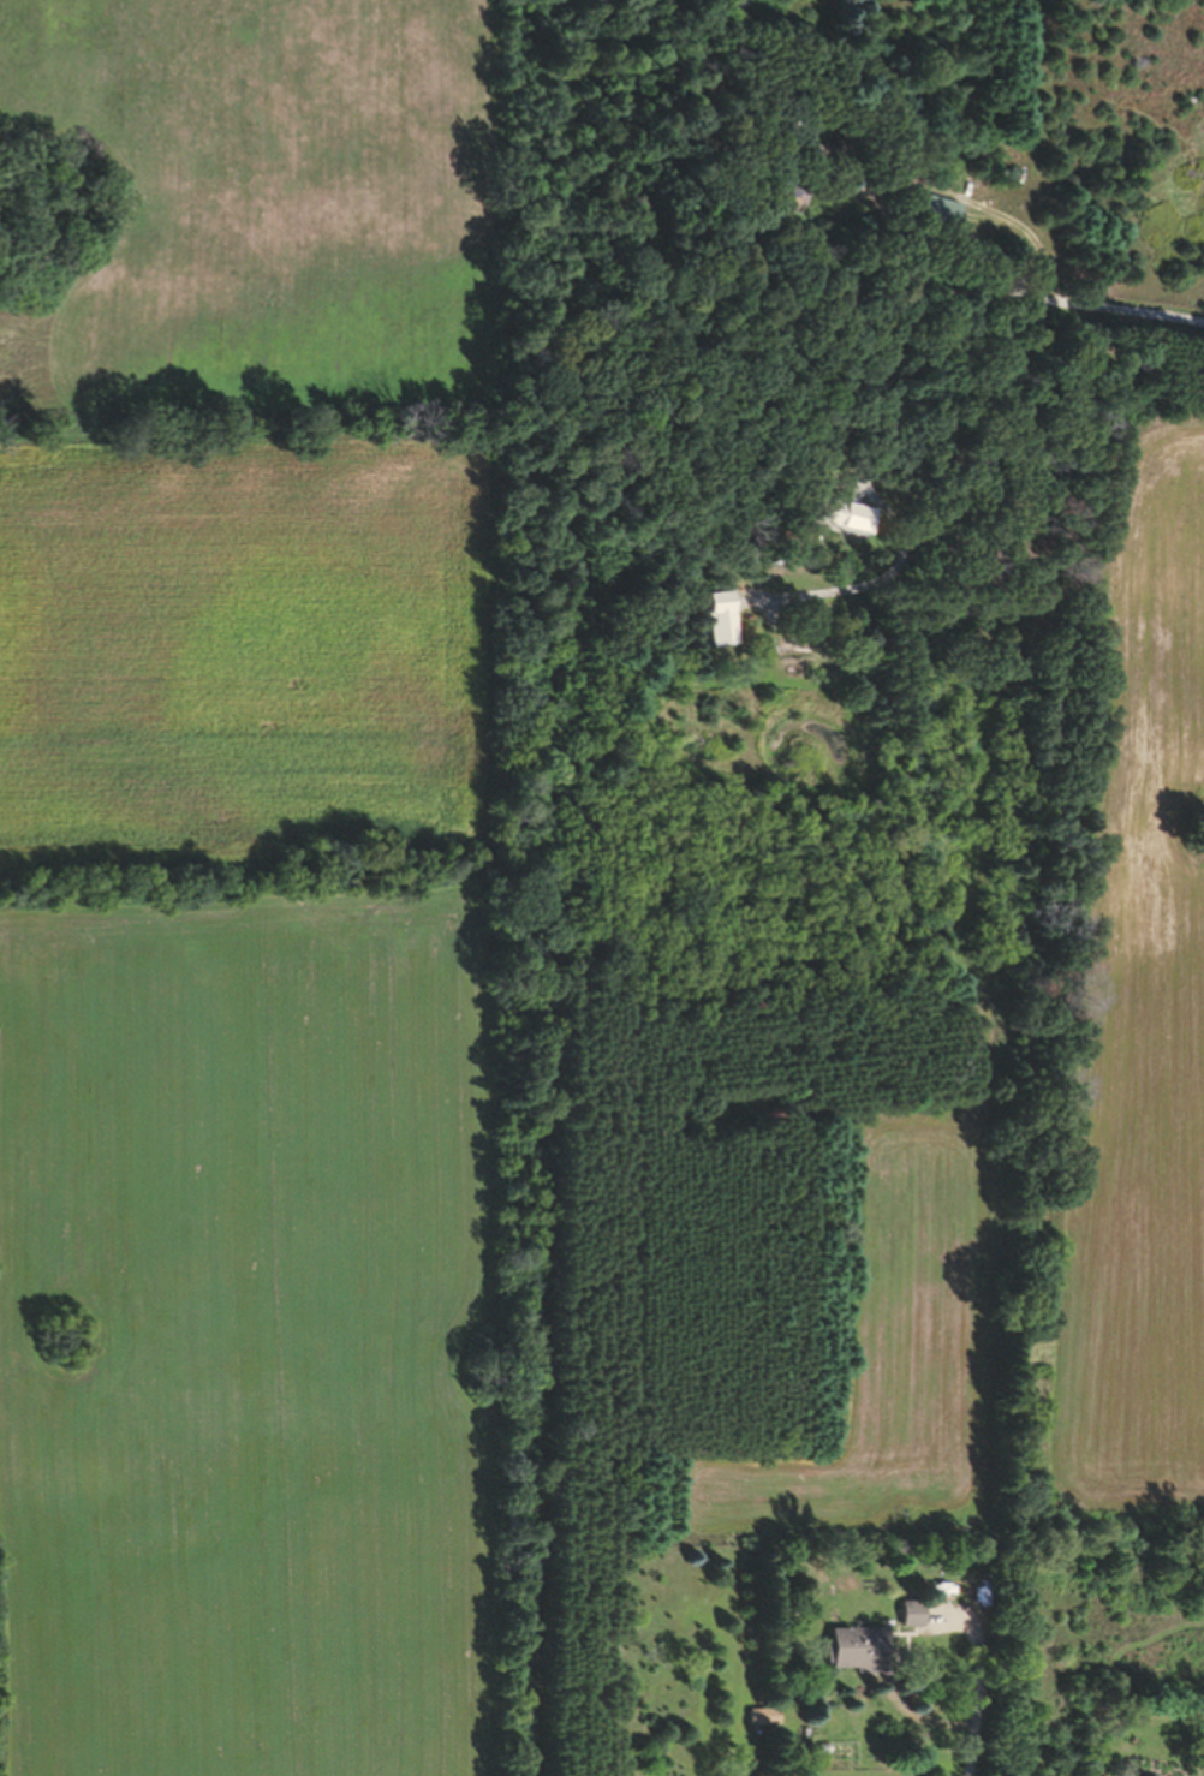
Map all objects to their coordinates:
road: (876, 340)
building: (719, 630)
building: (910, 1623)
building: (859, 1657)

